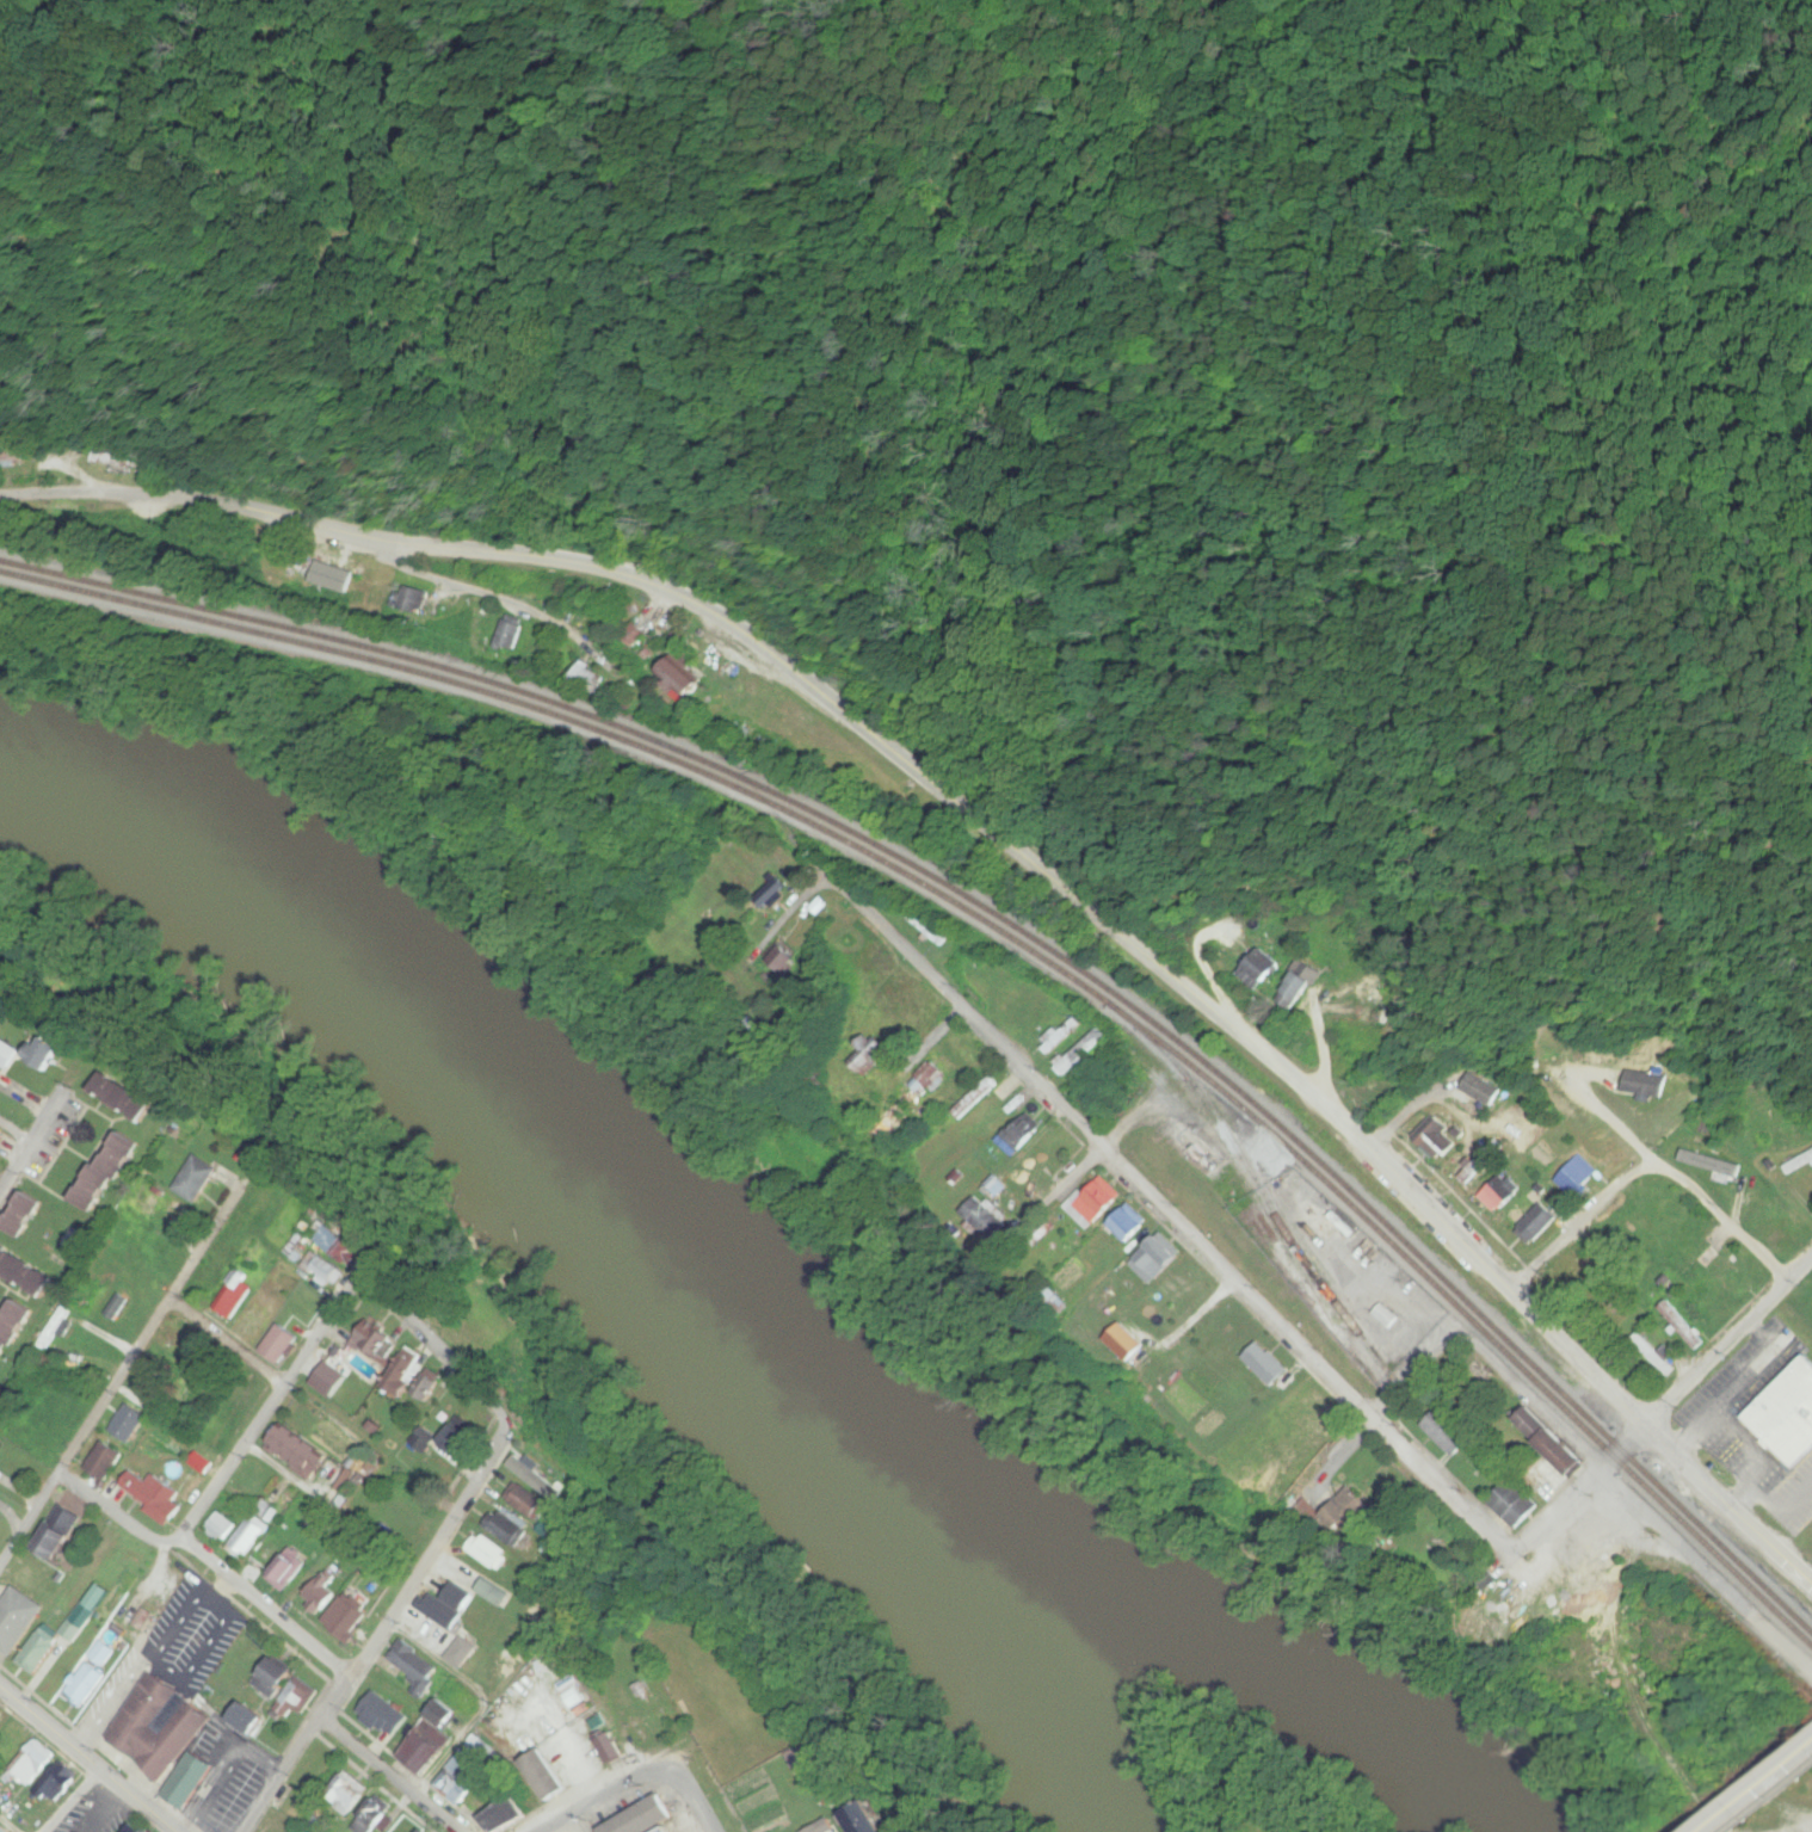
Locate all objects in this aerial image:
building: (10, 456)
building: (117, 459)
road: (179, 495)
road: (458, 579)
building: (412, 603)
building: (510, 634)
building: (637, 634)
building: (588, 677)
building: (734, 678)
building: (678, 683)
building: (772, 882)
railway: (1007, 919)
building: (926, 927)
railway: (1007, 932)
road: (1150, 938)
building: (1258, 974)
building: (1300, 983)
road: (927, 1048)
building: (48, 1050)
building: (1079, 1053)
building: (870, 1054)
building: (6, 1057)
building: (930, 1079)
building: (1648, 1084)
building: (125, 1097)
building: (1479, 1097)
building: (975, 1098)
river: (551, 1112)
building: (895, 1117)
road: (7, 1129)
building: (1019, 1136)
building: (1435, 1137)
road: (32, 1139)
road: (23, 1140)
building: (1799, 1164)
building: (1714, 1165)
building: (106, 1176)
building: (1577, 1177)
building: (196, 1179)
railway: (1262, 1190)
building: (144, 1201)
building: (1095, 1204)
road: (1177, 1208)
road: (1717, 1215)
building: (25, 1216)
building: (181, 1219)
road: (1577, 1219)
building: (1537, 1222)
building: (1128, 1225)
building: (339, 1246)
building: (263, 1262)
building: (1153, 1262)
building: (323, 1267)
building: (1722, 1269)
building: (25, 1272)
building: (286, 1281)
building: (234, 1294)
building: (1056, 1303)
building: (117, 1307)
building: (252, 1322)
building: (1680, 1325)
building: (13, 1328)
road: (1728, 1338)
building: (180, 1341)
road: (228, 1343)
building: (1127, 1343)
building: (375, 1344)
building: (281, 1345)
building: (1252, 1349)
road: (448, 1356)
road: (1416, 1368)
building: (405, 1376)
building: (331, 1381)
building: (429, 1387)
road: (112, 1390)
road: (272, 1402)
building: (1787, 1413)
building: (1320, 1423)
building: (129, 1425)
building: (1447, 1432)
road: (1634, 1439)
building: (1, 1442)
building: (454, 1444)
building: (298, 1452)
building: (1551, 1455)
building: (105, 1461)
building: (152, 1494)
road: (1568, 1499)
road: (1633, 1499)
building: (528, 1504)
building: (1514, 1504)
road: (113, 1513)
building: (1352, 1515)
building: (507, 1525)
building: (220, 1528)
building: (57, 1535)
building: (247, 1537)
building: (487, 1552)
road: (431, 1554)
building: (1573, 1555)
building: (285, 1571)
building: (495, 1593)
building: (321, 1594)
building: (463, 1597)
road: (263, 1606)
building: (345, 1618)
building: (17, 1620)
building: (79, 1623)
road: (482, 1633)
building: (106, 1648)
building: (39, 1651)
building: (462, 1653)
building: (415, 1666)
building: (494, 1667)
building: (275, 1679)
river: (1278, 1680)
building: (85, 1684)
road: (333, 1697)
river: (1048, 1713)
building: (445, 1716)
building: (1, 1717)
road: (509, 1720)
building: (249, 1721)
building: (657, 1726)
building: (158, 1727)
building: (10, 1742)
building: (425, 1748)
building: (610, 1748)
road: (1788, 1754)
road: (86, 1759)
building: (802, 1759)
building: (30, 1764)
building: (458, 1765)
road: (390, 1772)
road: (282, 1774)
road: (652, 1775)
building: (546, 1776)
building: (189, 1782)
building: (55, 1783)
building: (452, 1790)
building: (347, 1794)
road: (691, 1794)
road: (75, 1802)
road: (1730, 1802)
building: (642, 1816)
building: (381, 1819)
building: (132, 1828)
building: (664, 1828)
building: (1, 1831)
building: (426, 1831)

